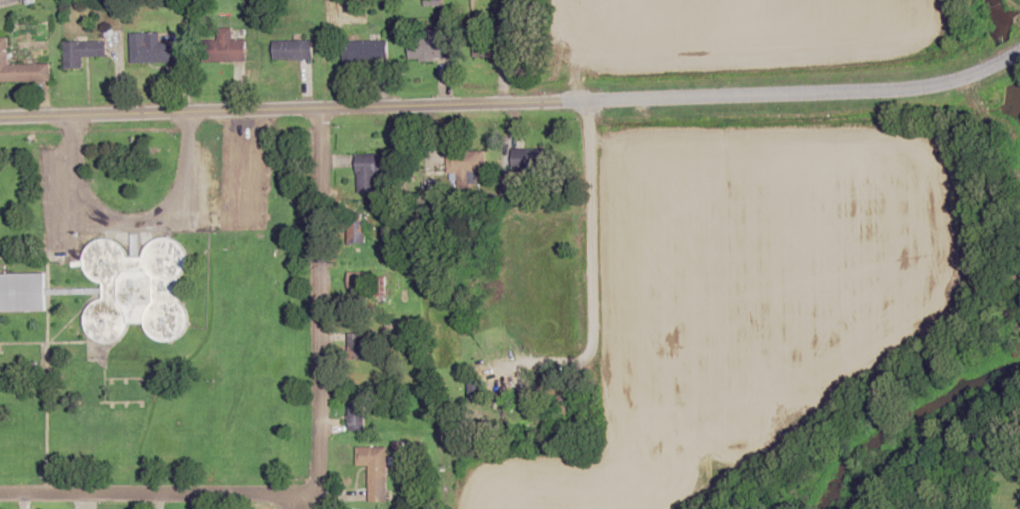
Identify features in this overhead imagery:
building: (429, 46)
building: (492, 46)
building: (151, 48)
building: (225, 48)
building: (294, 50)
building: (366, 50)
building: (83, 52)
building: (21, 68)
road: (513, 102)
building: (533, 158)
building: (466, 161)
building: (373, 170)
road: (129, 220)
building: (357, 231)
road: (587, 232)
building: (137, 288)
building: (23, 292)
road: (316, 324)
road: (558, 336)
building: (357, 348)
building: (479, 391)
building: (357, 417)
building: (375, 469)
road: (137, 497)

